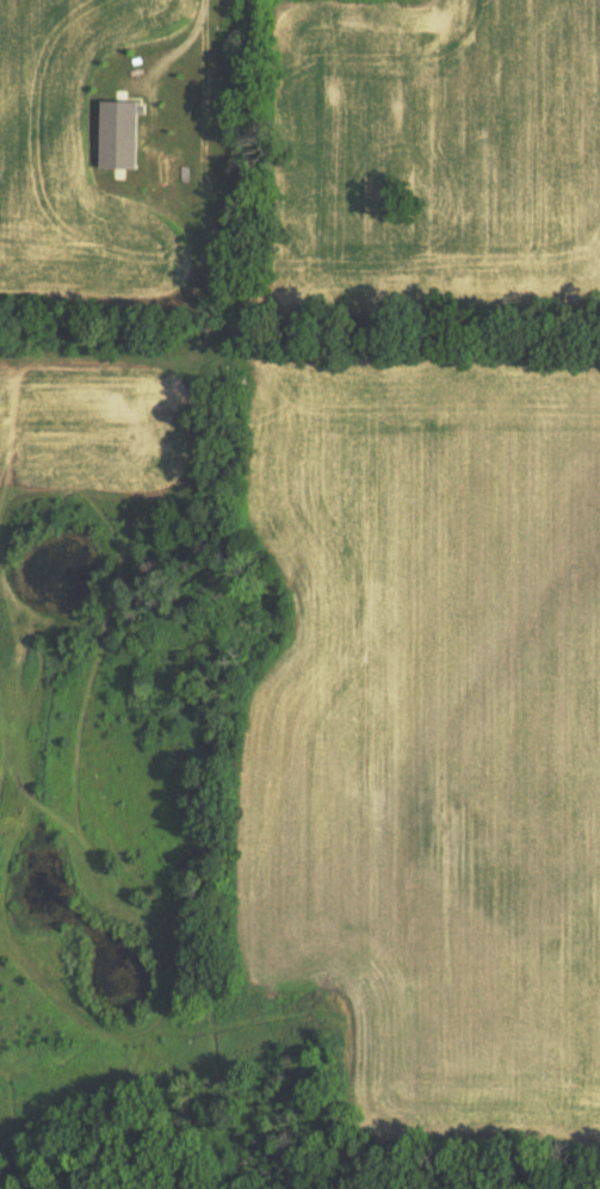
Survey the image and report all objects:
building: (123, 136)

